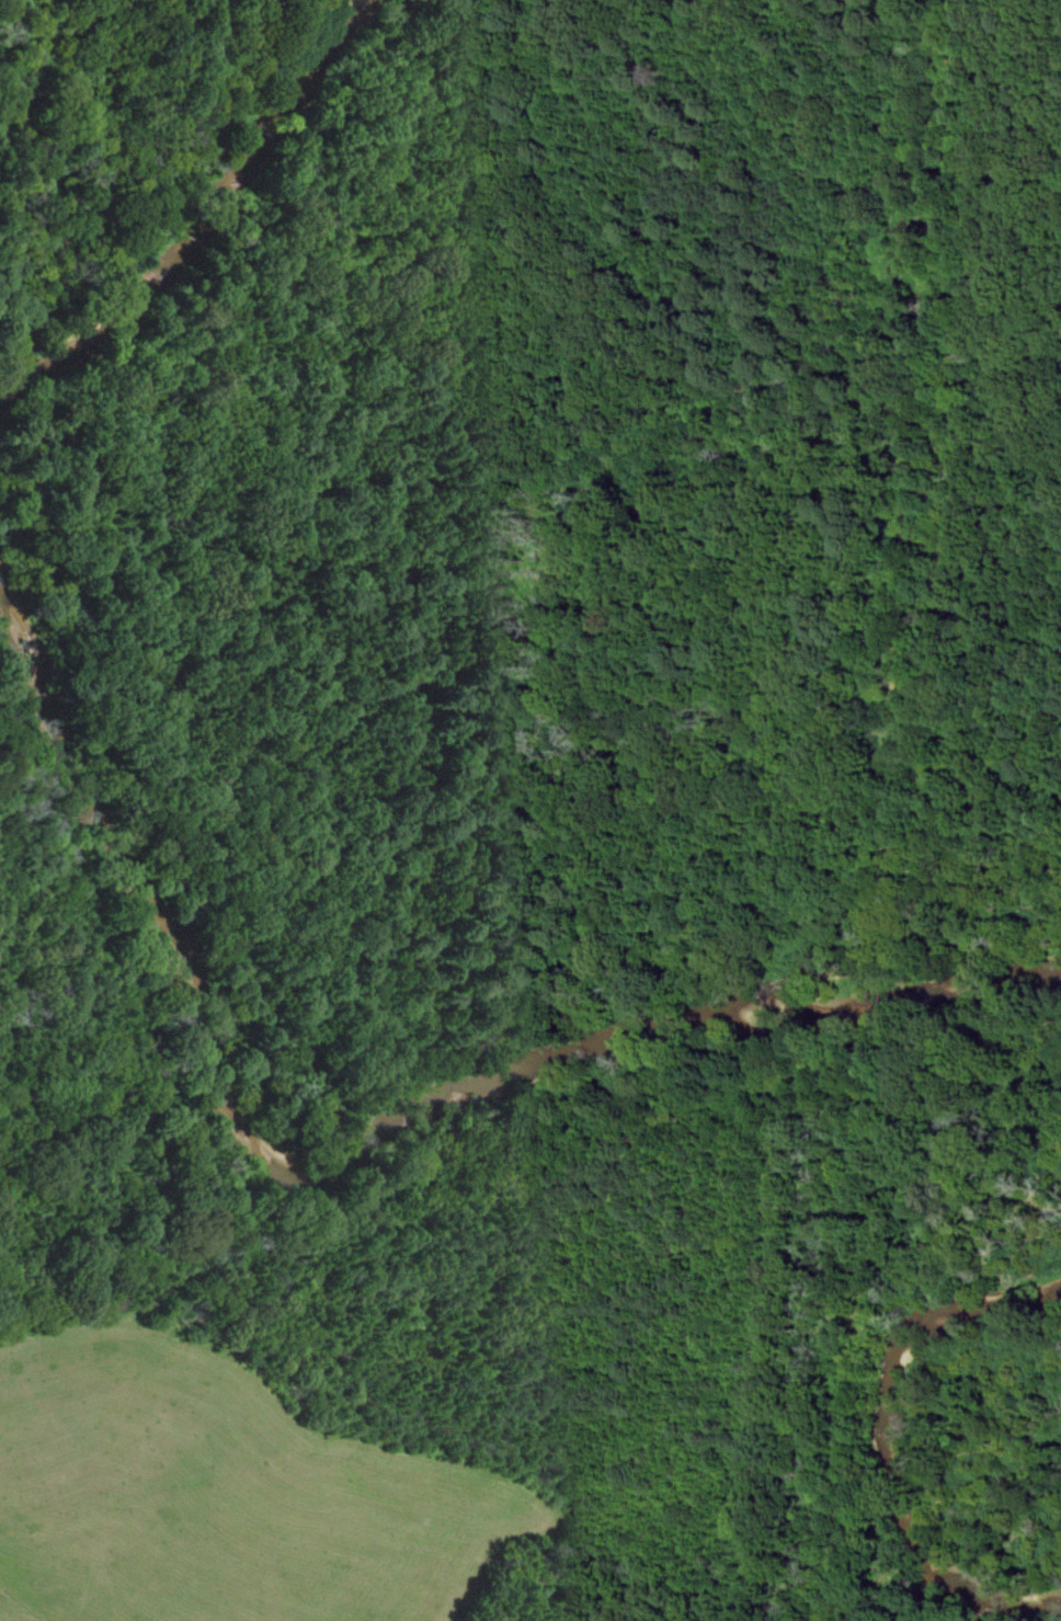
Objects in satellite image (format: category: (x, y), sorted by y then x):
river: (213, 224)
river: (364, 1144)
river: (890, 1442)

